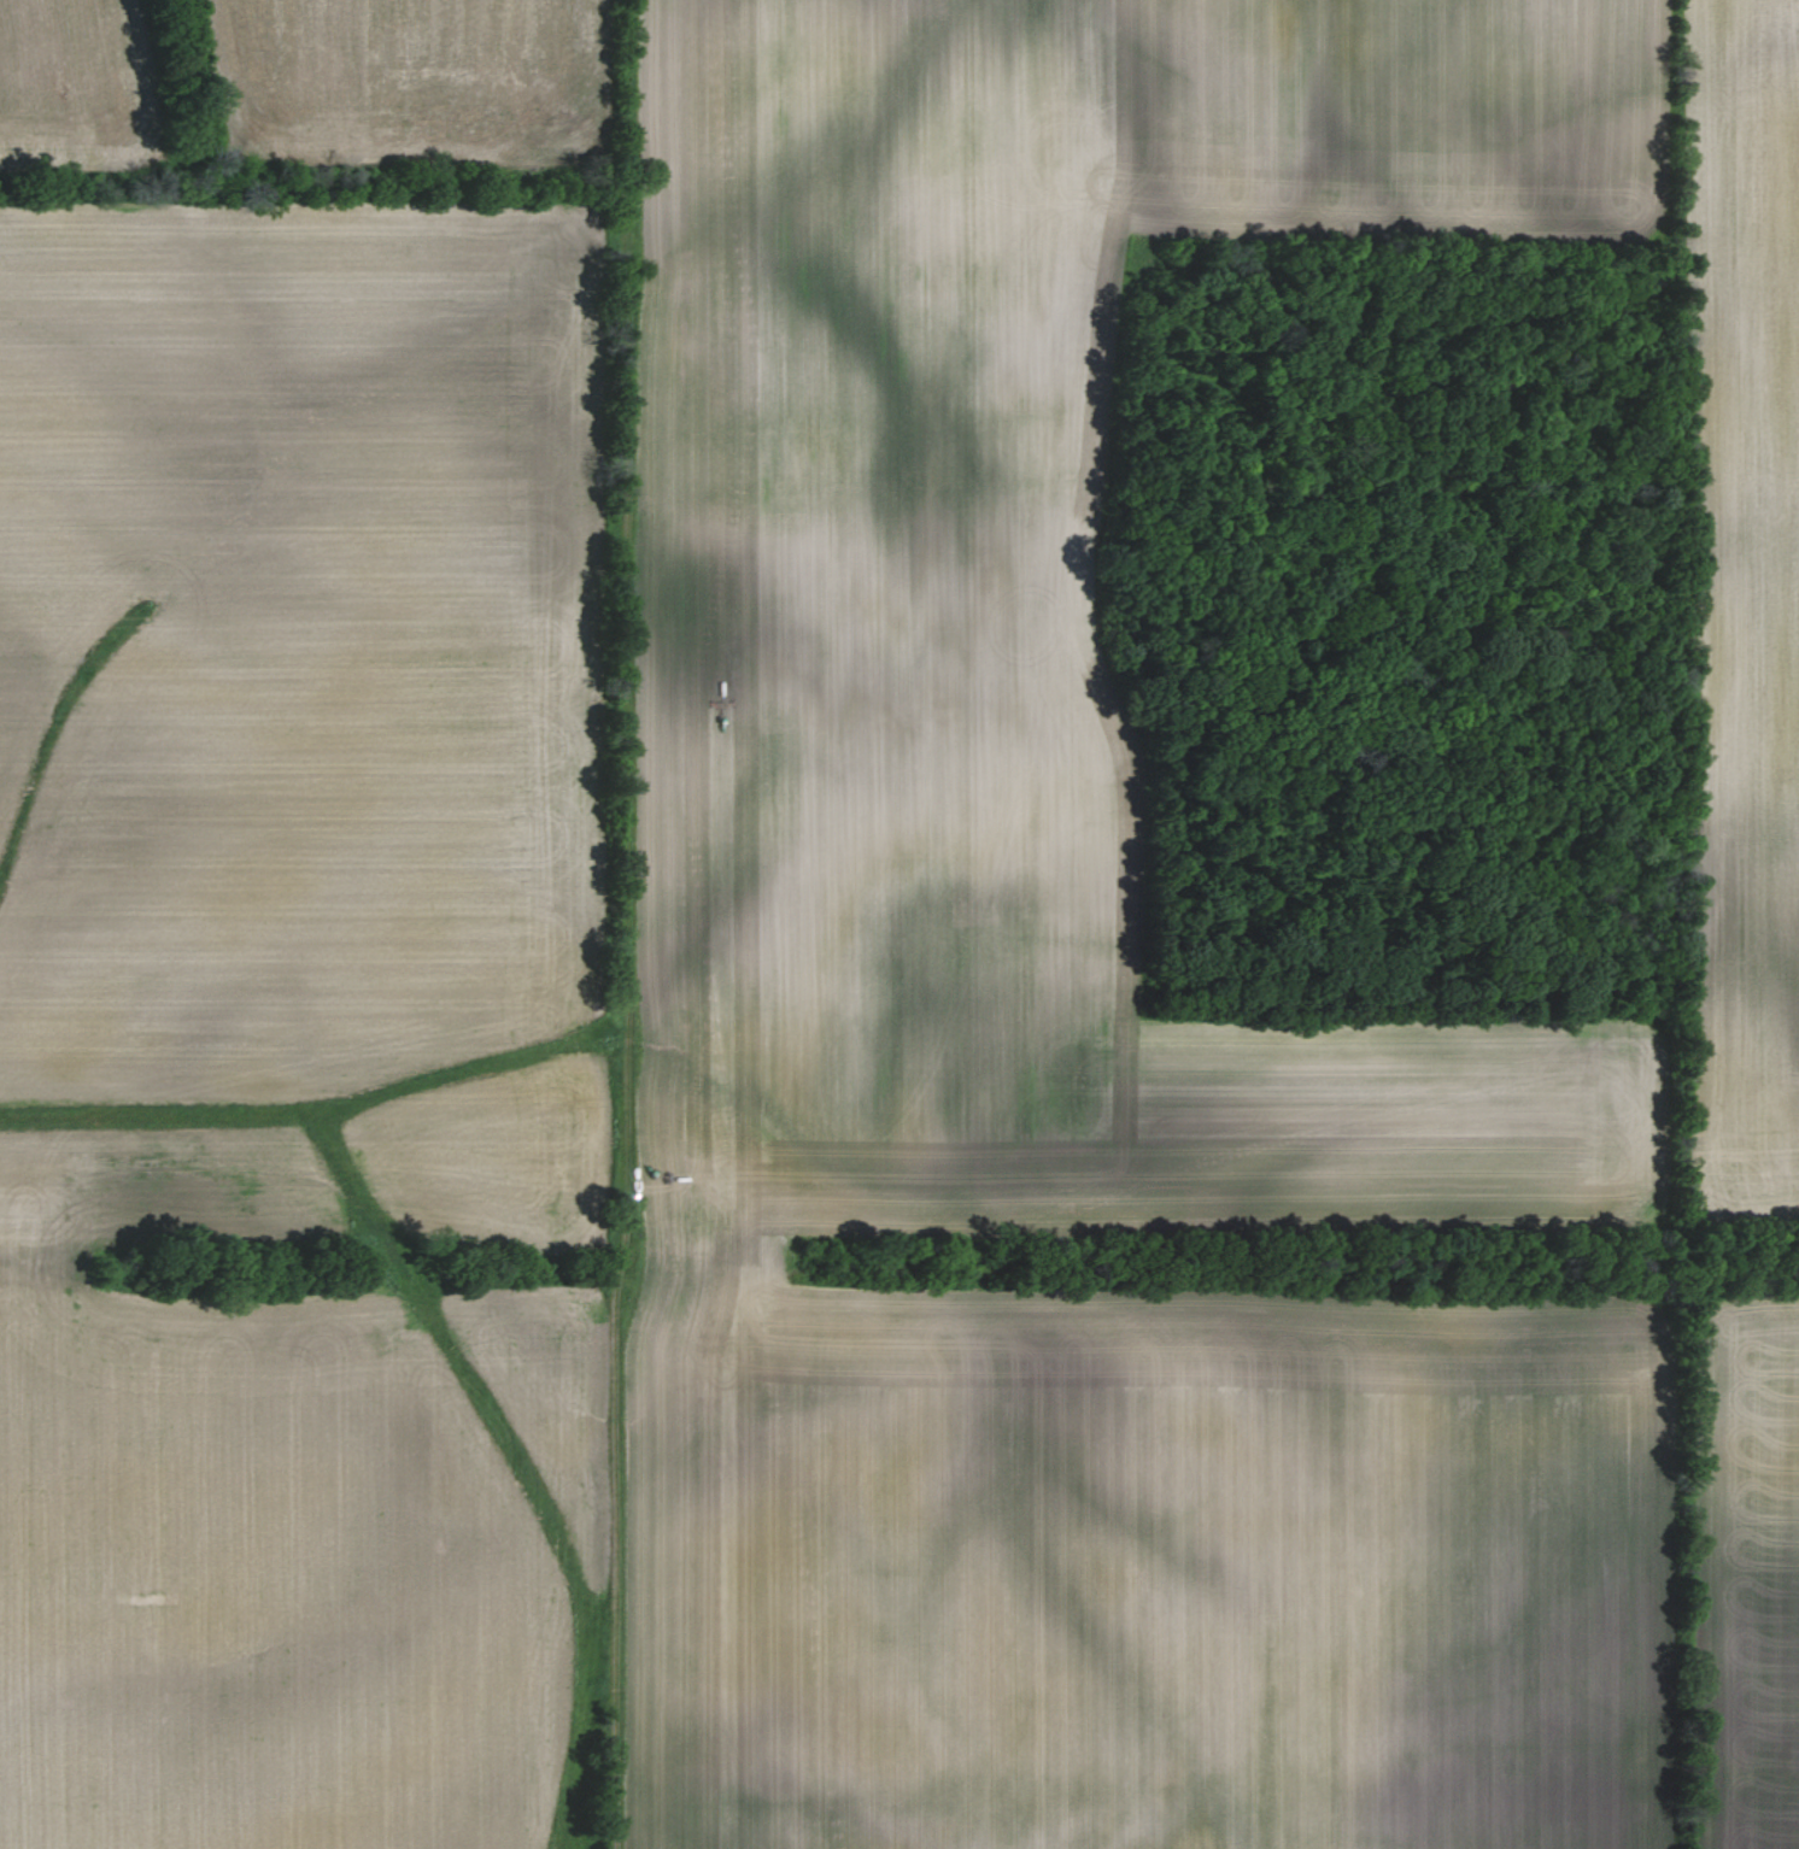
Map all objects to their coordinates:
road: (316, 184)
road: (626, 1016)

